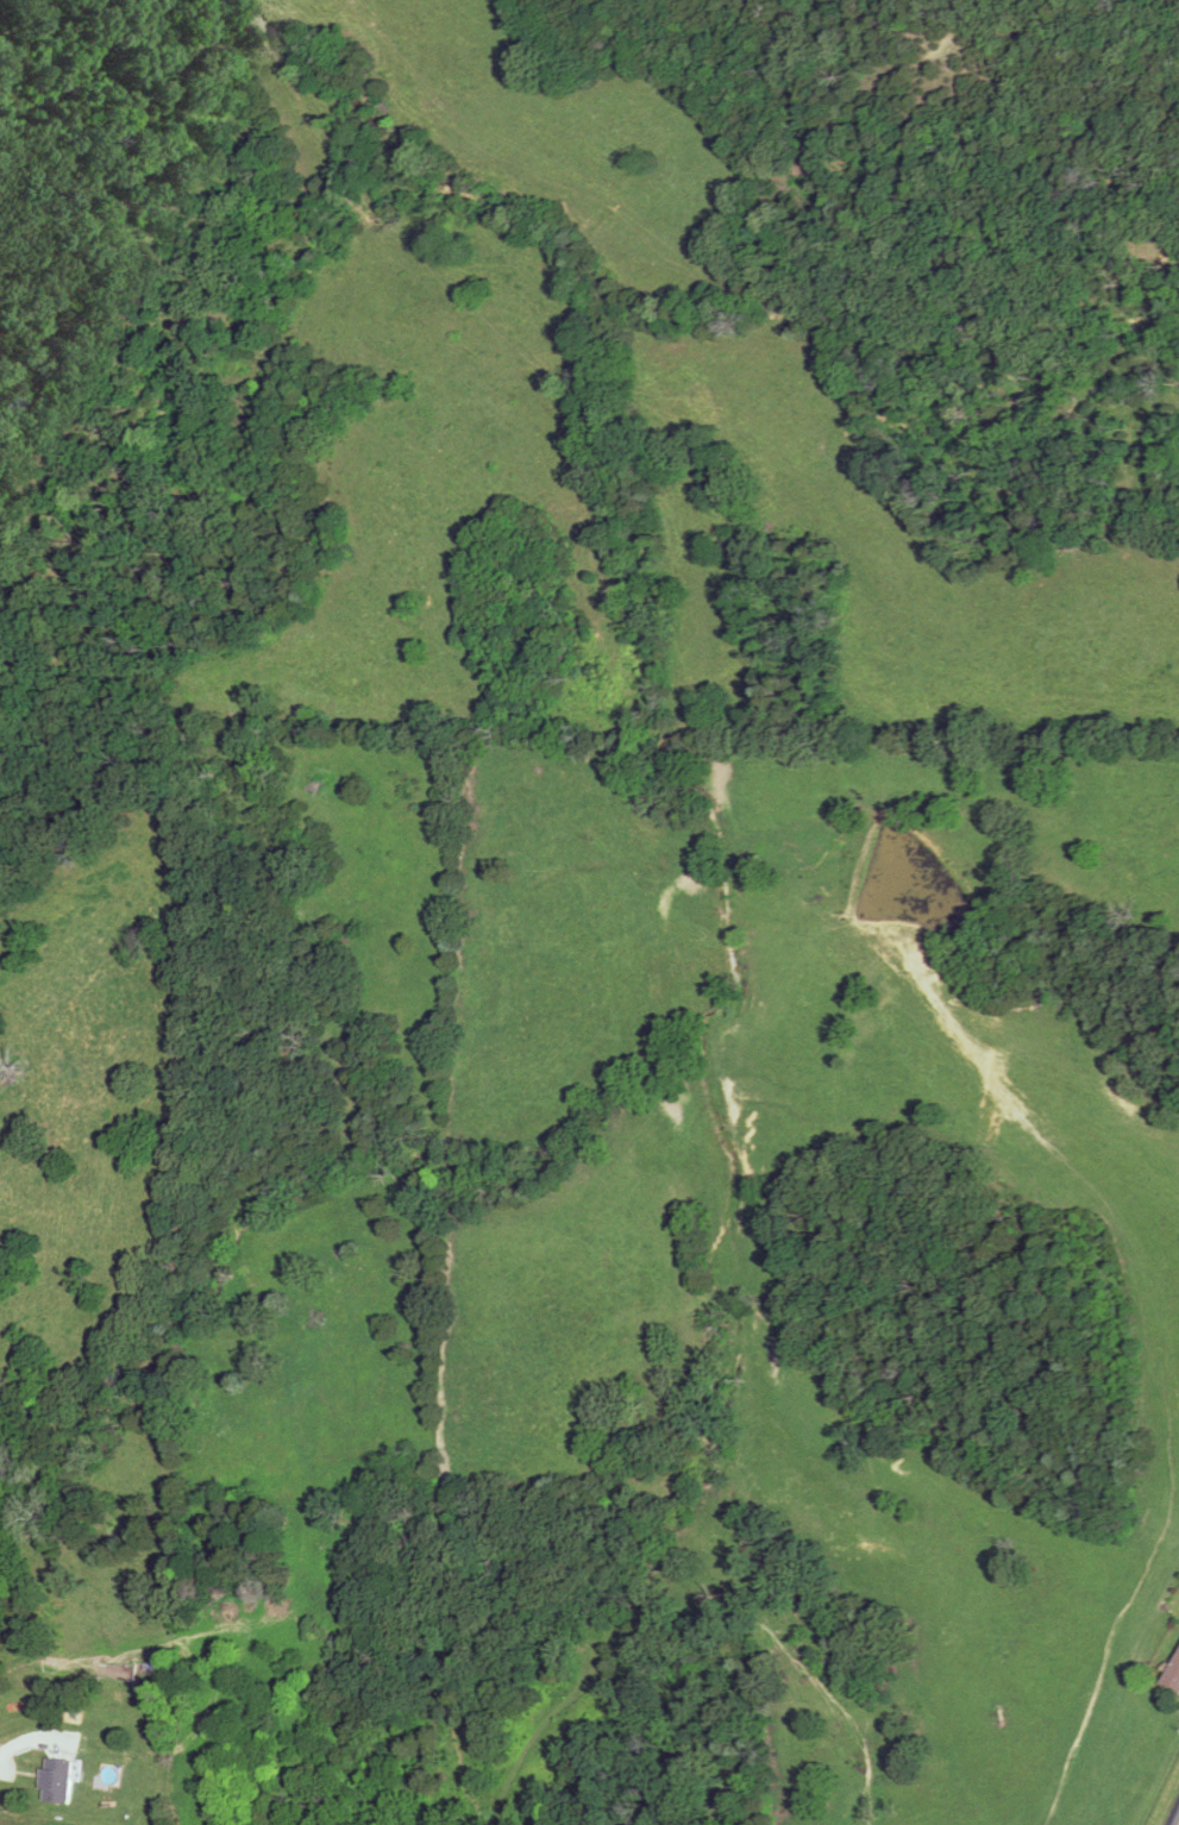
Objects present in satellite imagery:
building: (1172, 1676)
building: (57, 1780)

